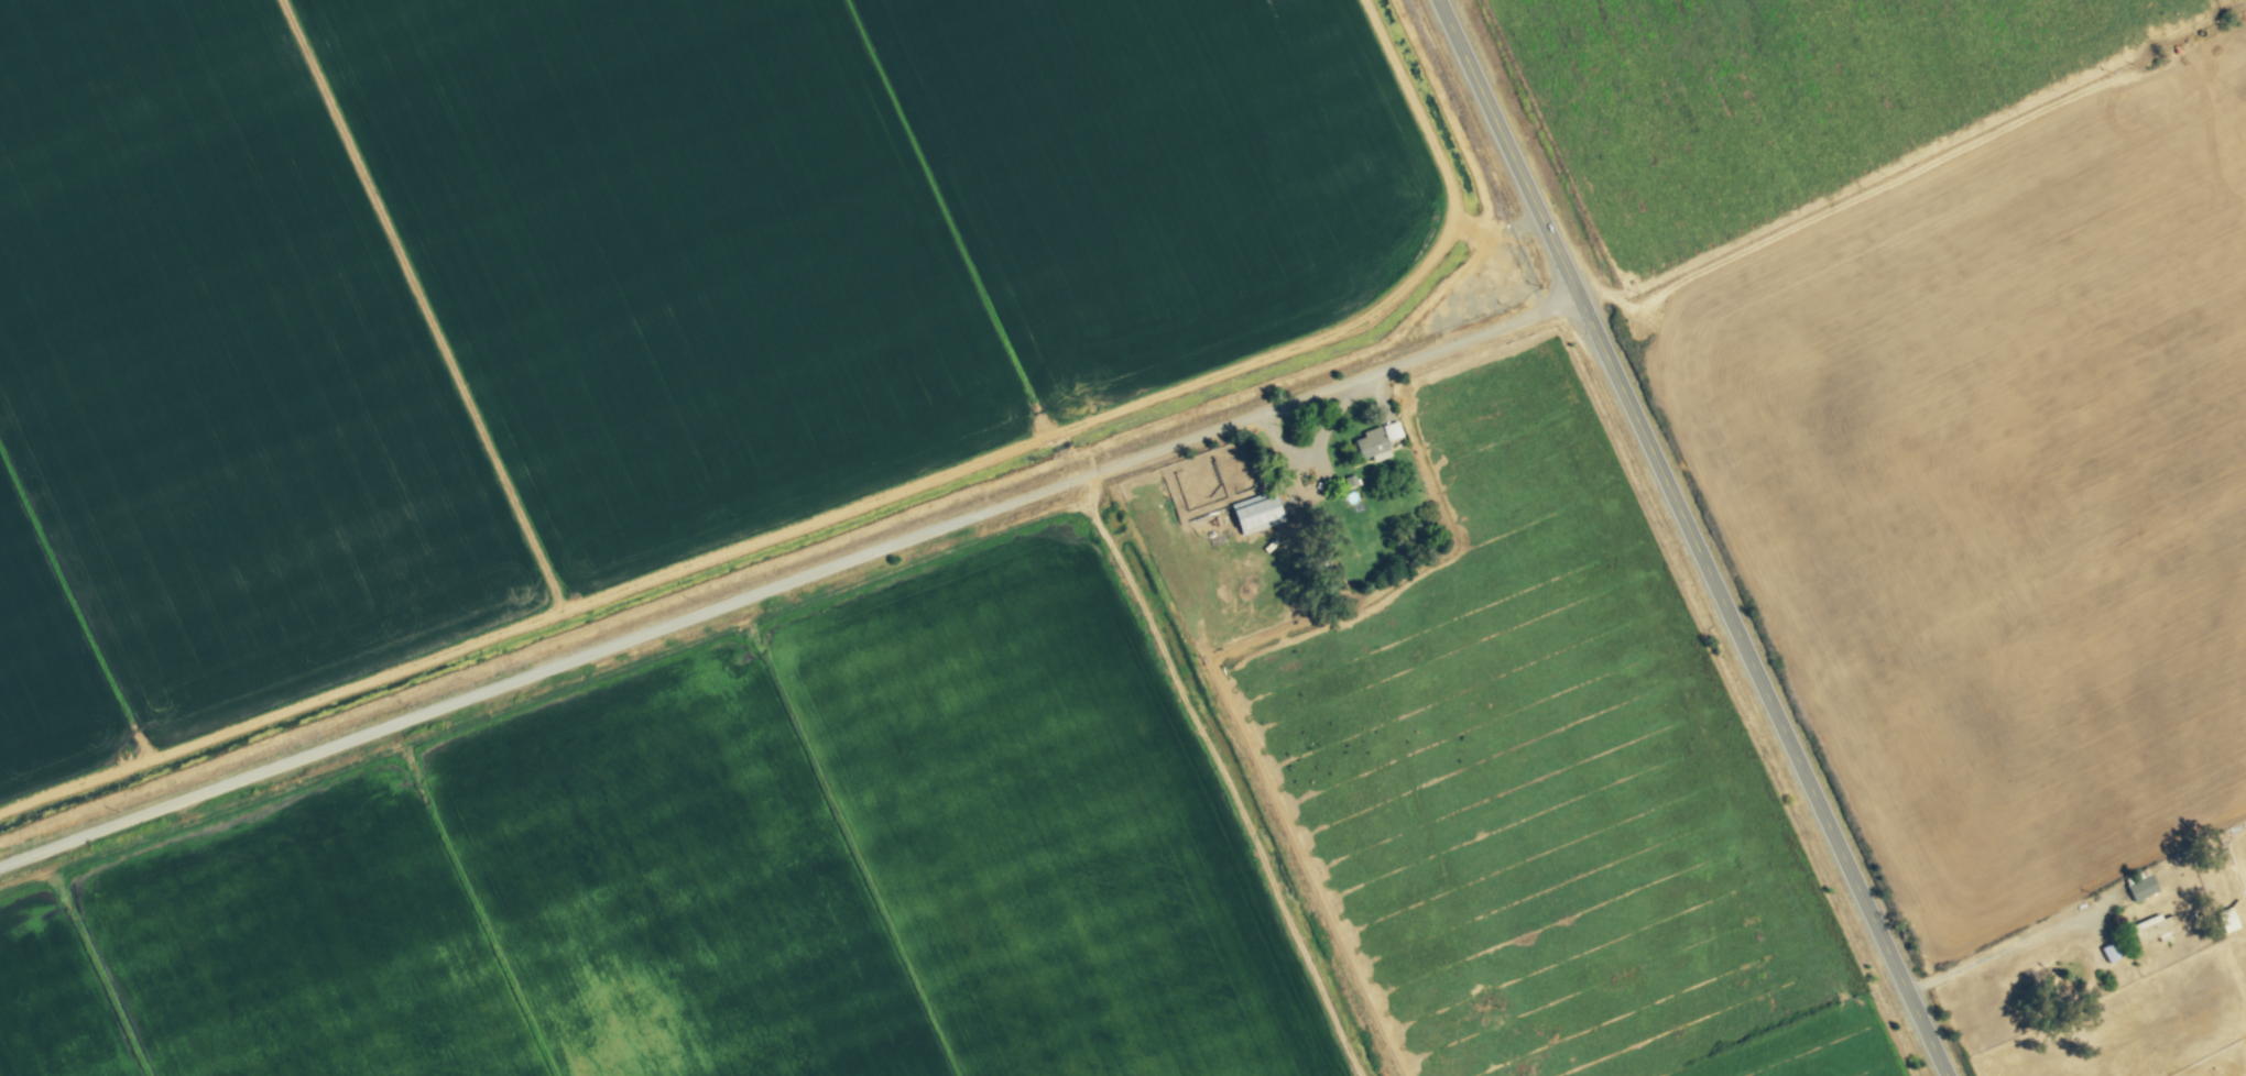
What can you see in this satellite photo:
building: (1373, 443)
building: (1251, 515)
road: (1694, 537)
road: (787, 584)
building: (2139, 888)
building: (2150, 927)
road: (1994, 955)

